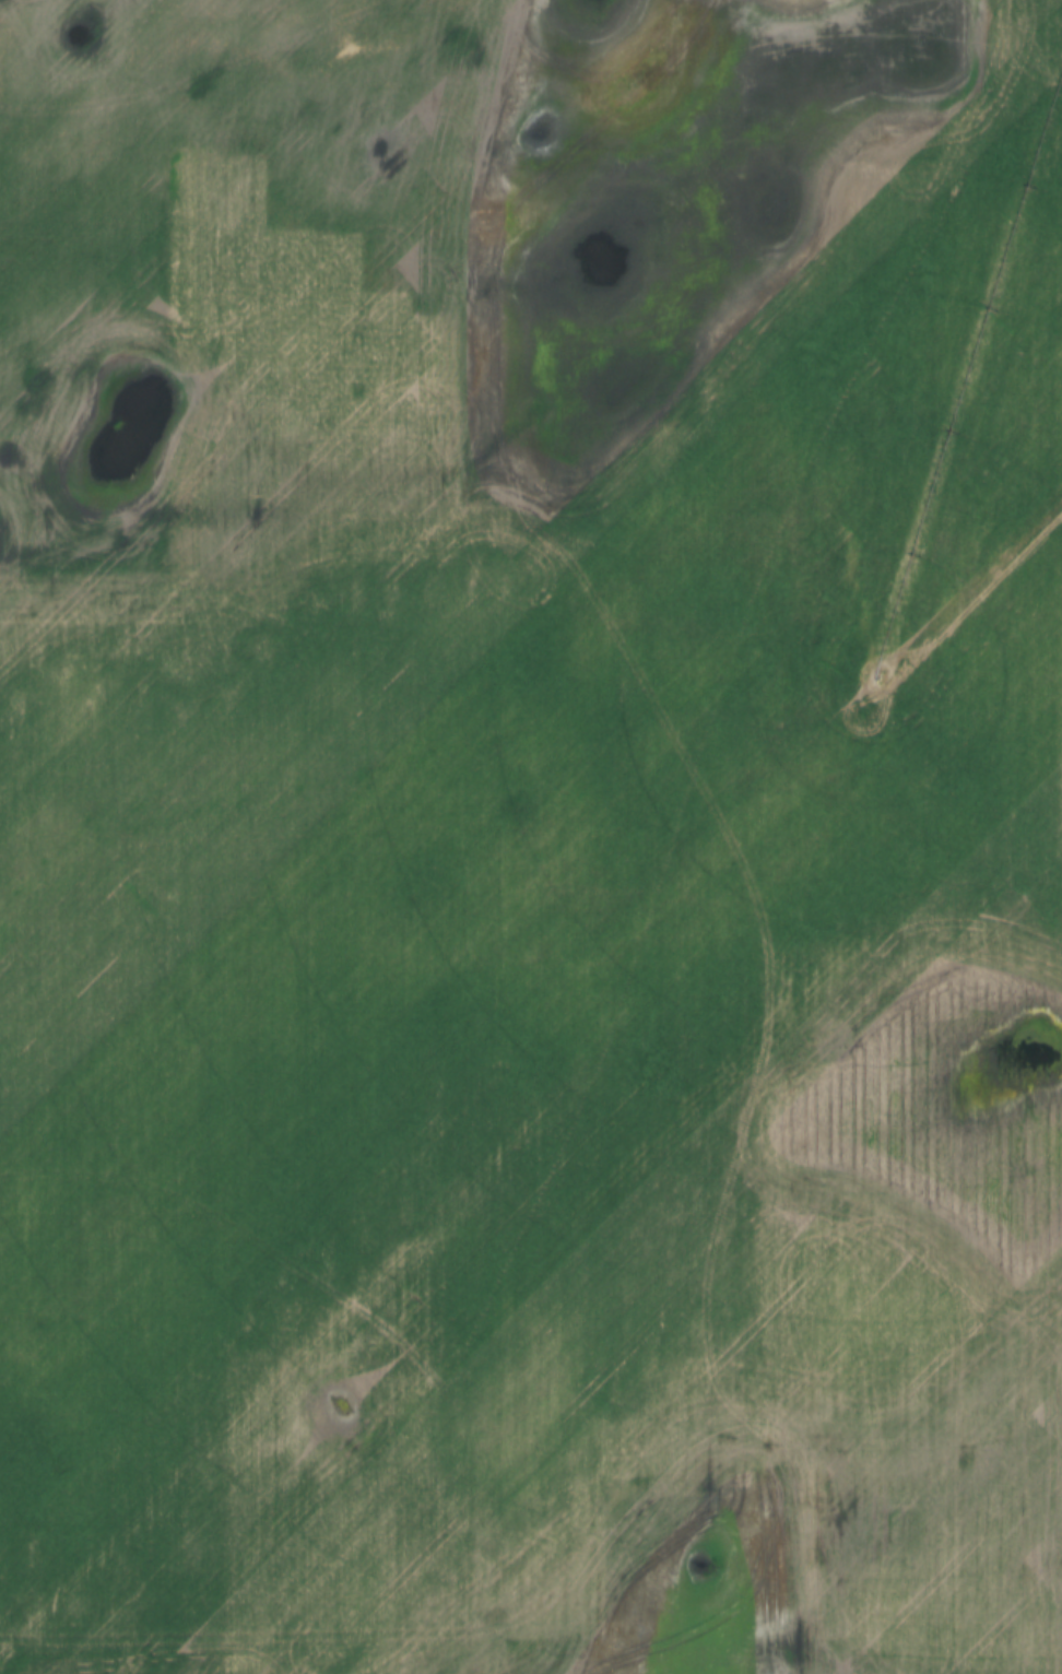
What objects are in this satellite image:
road: (873, 339)

